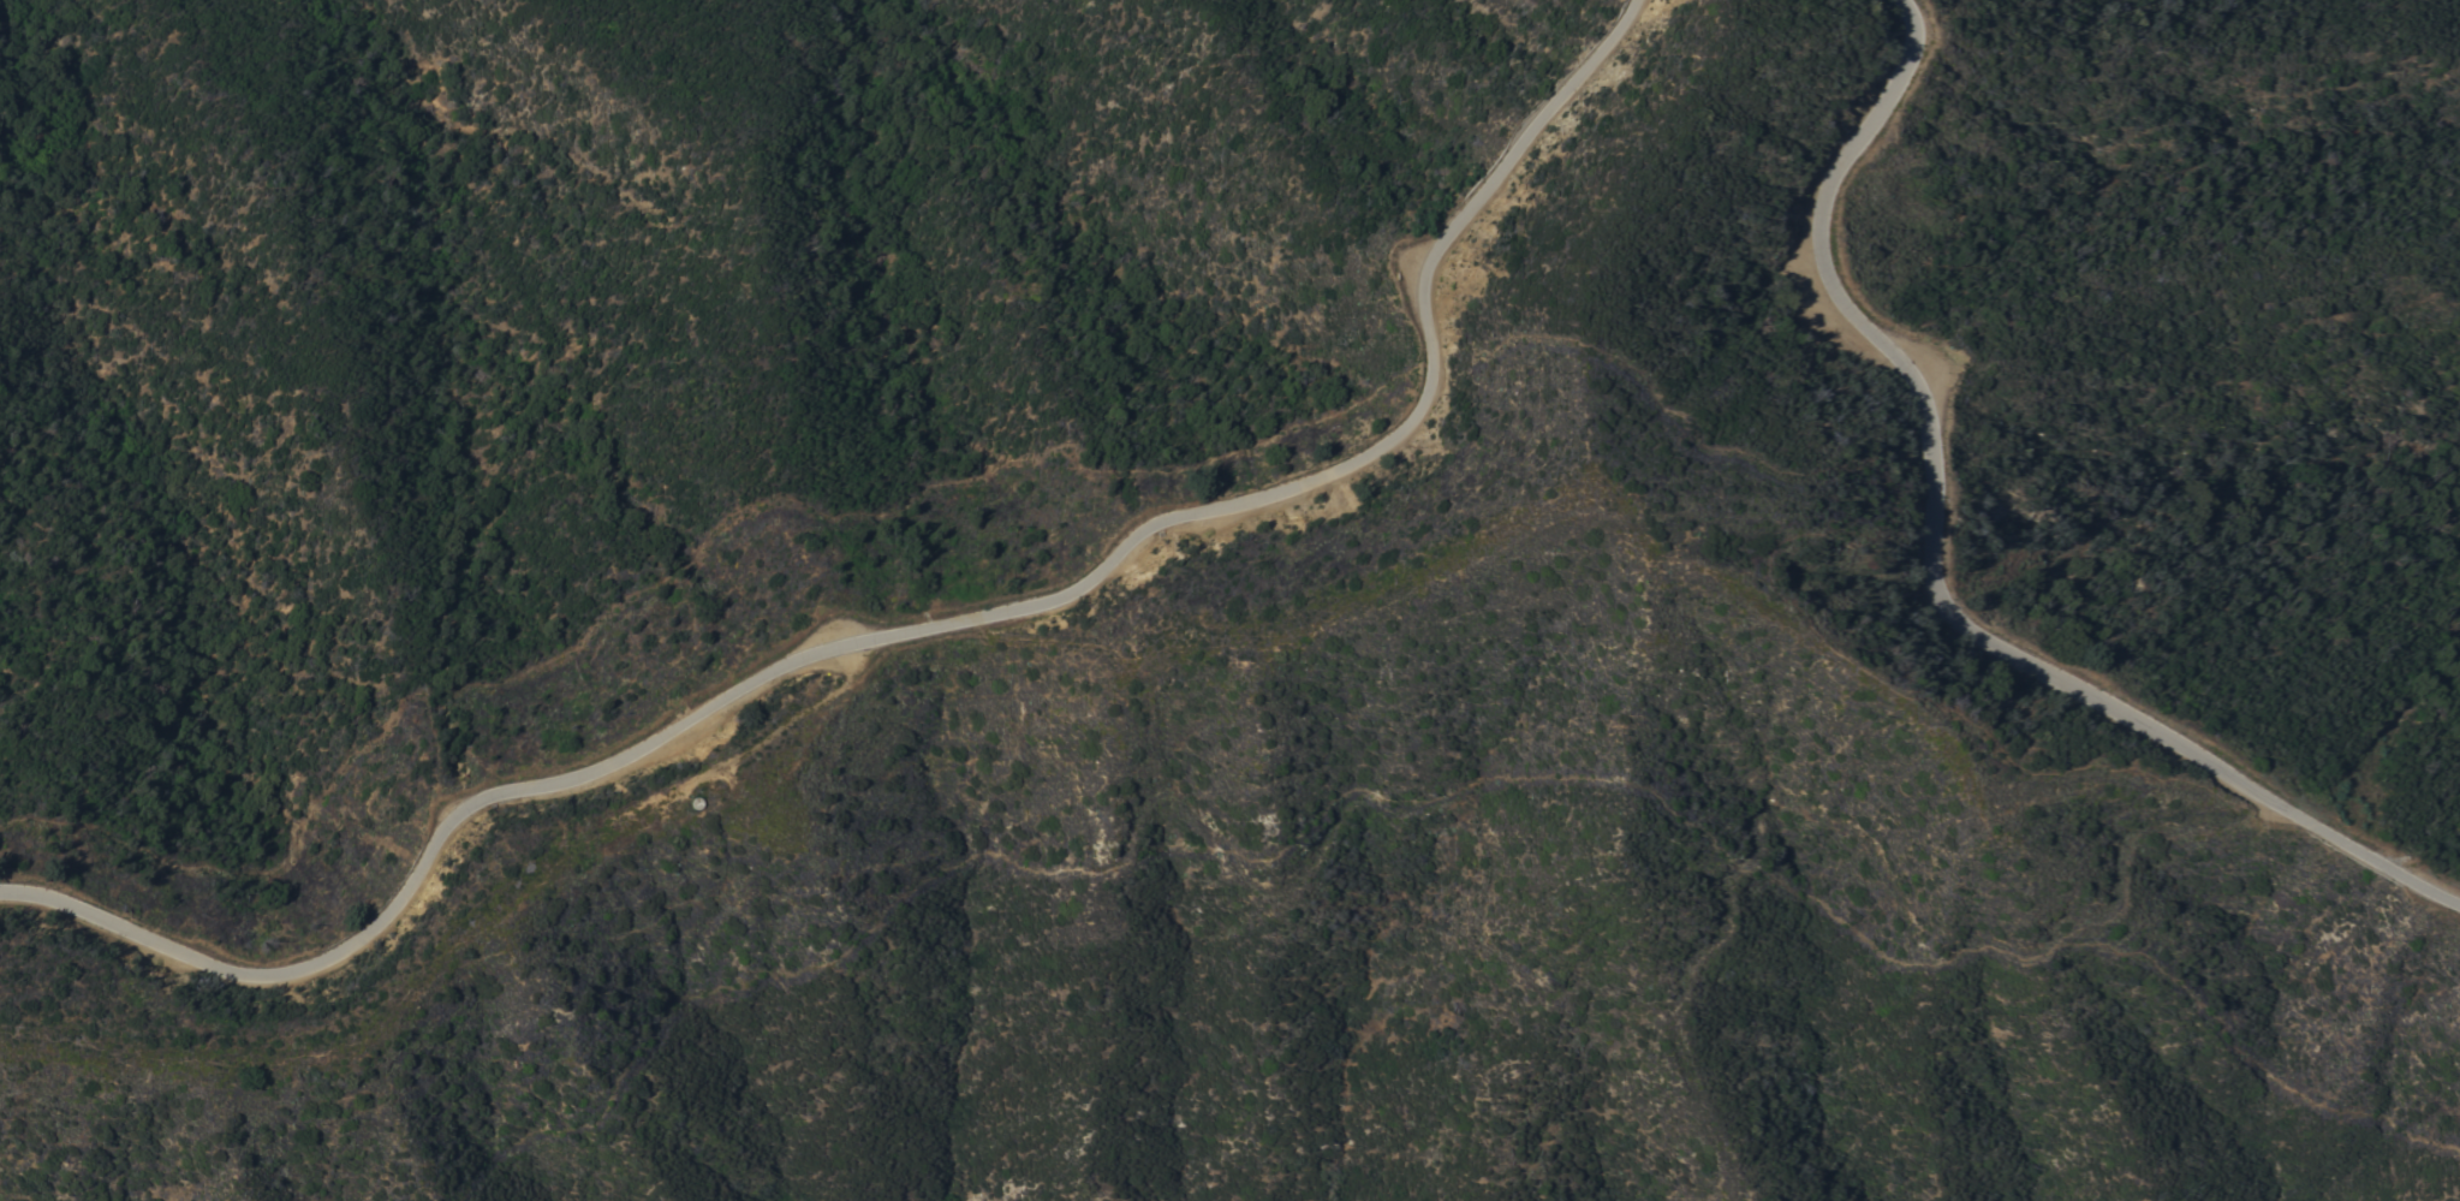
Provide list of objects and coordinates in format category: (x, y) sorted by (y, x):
road: (1936, 567)
road: (919, 628)
road: (761, 749)

